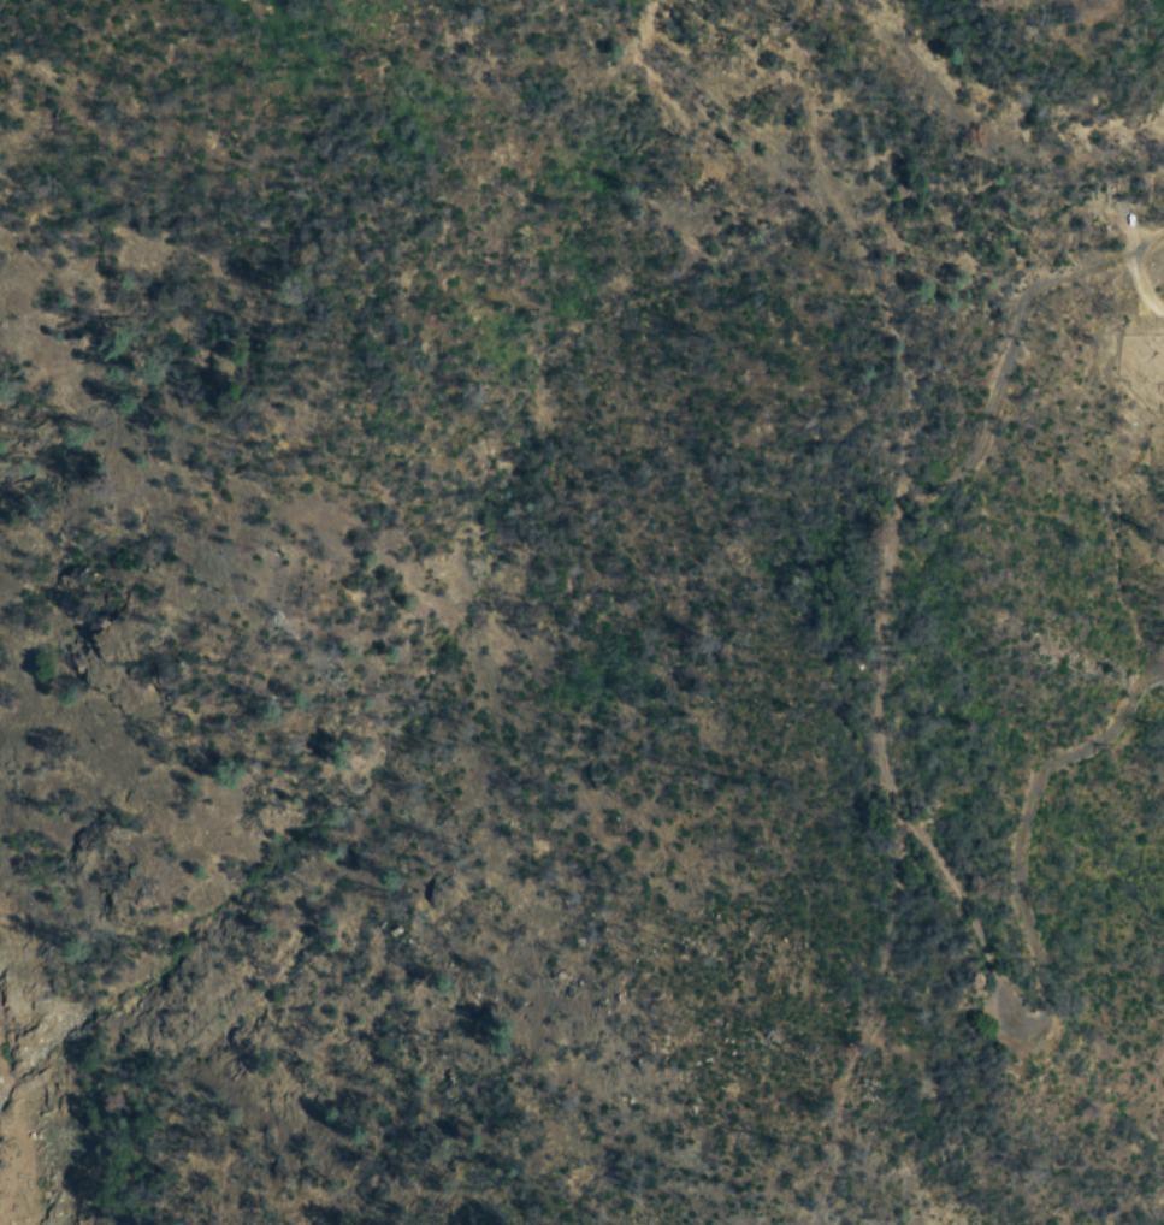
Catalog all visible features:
road: (294, 6)

